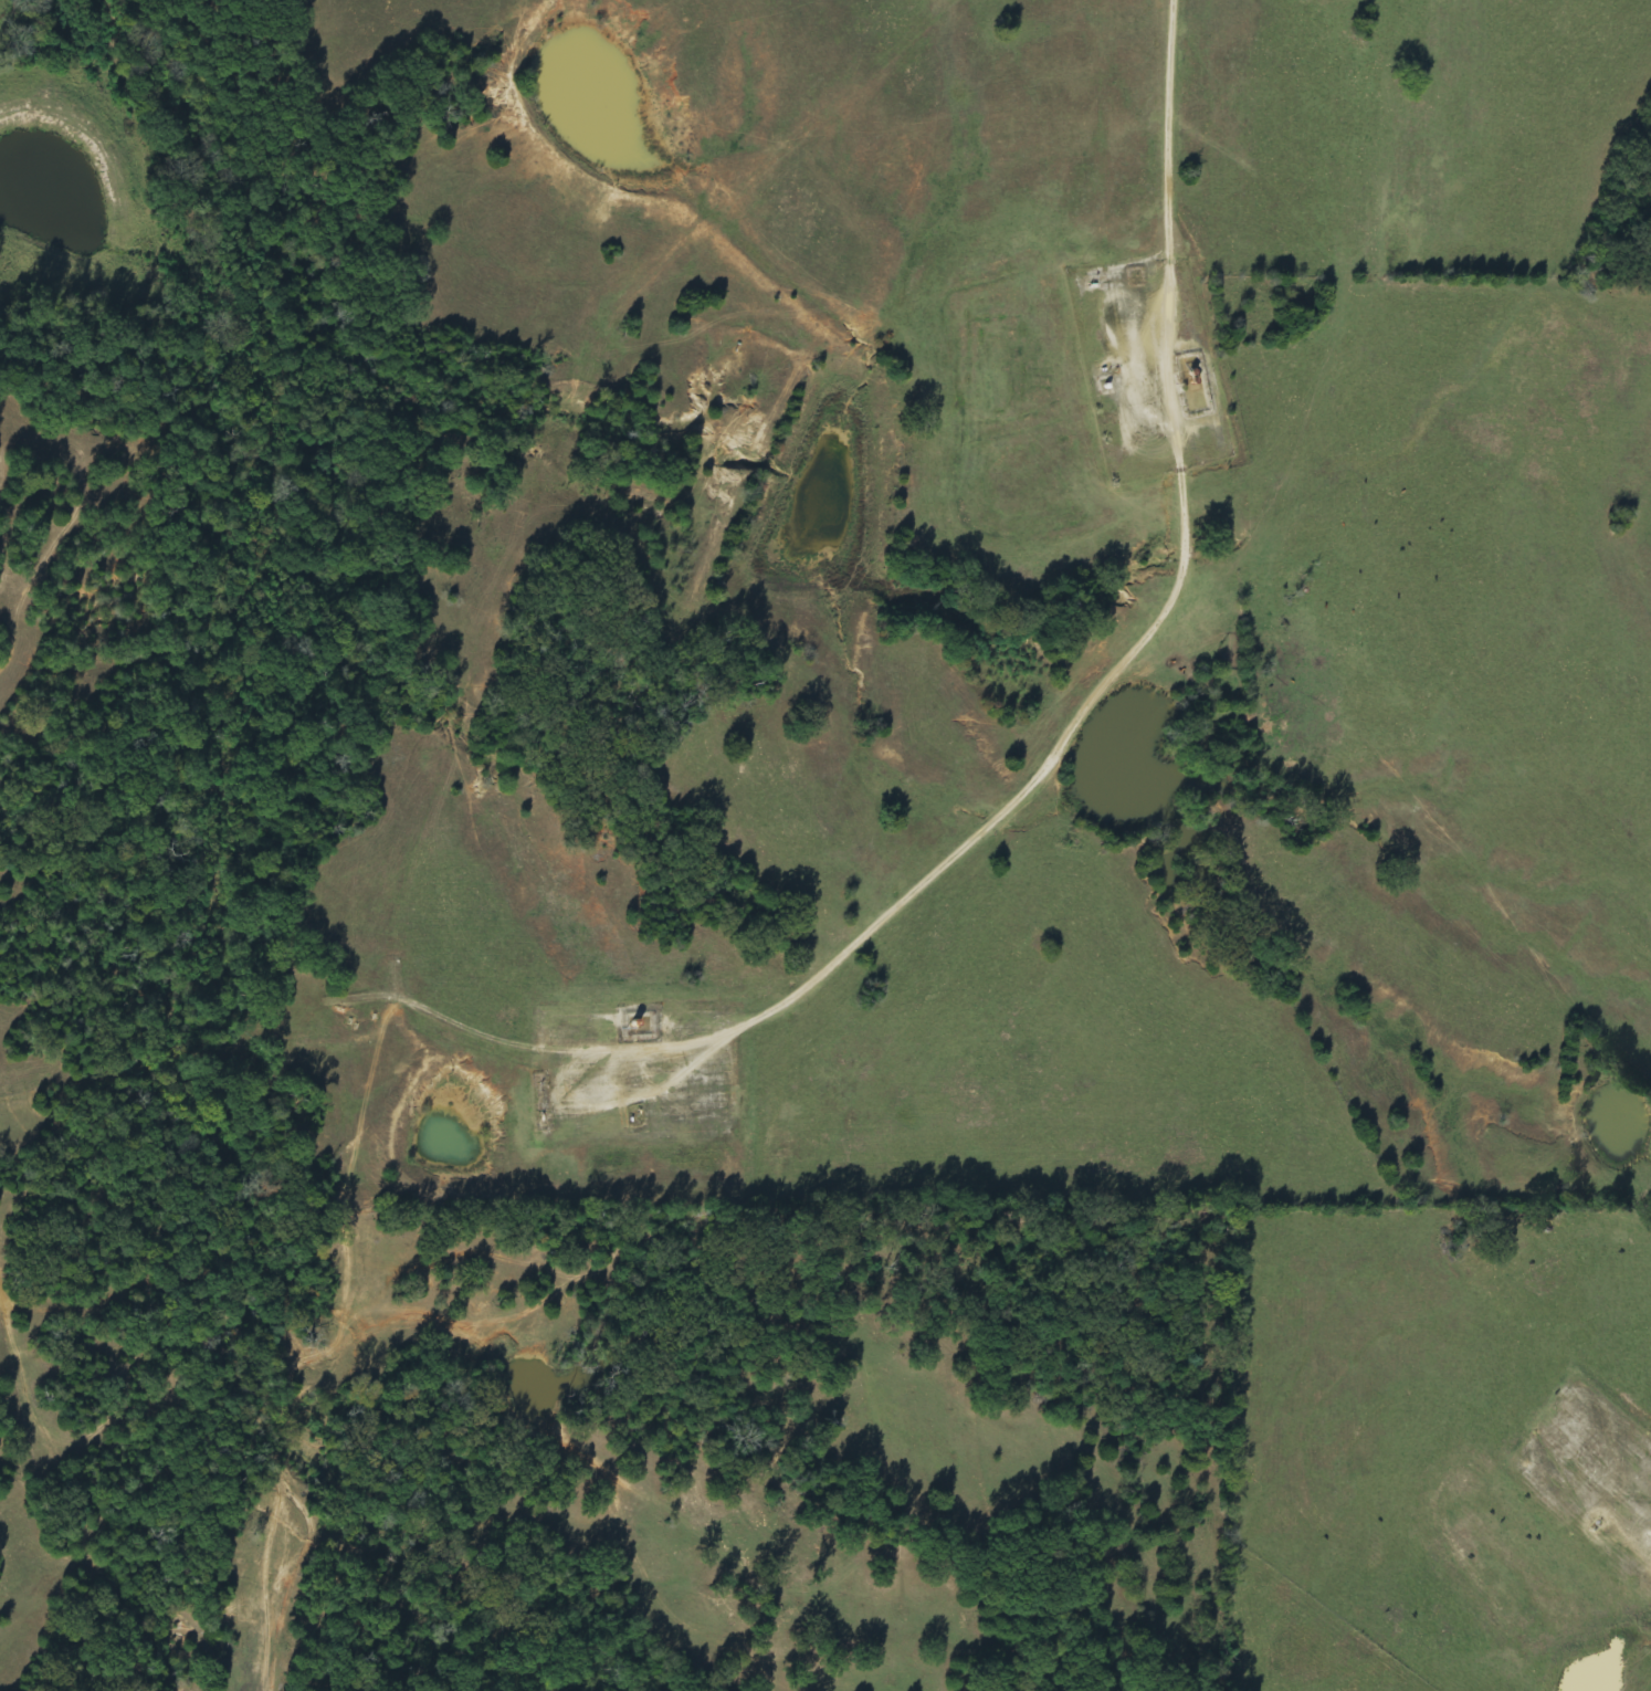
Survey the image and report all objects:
road: (1460, 616)

